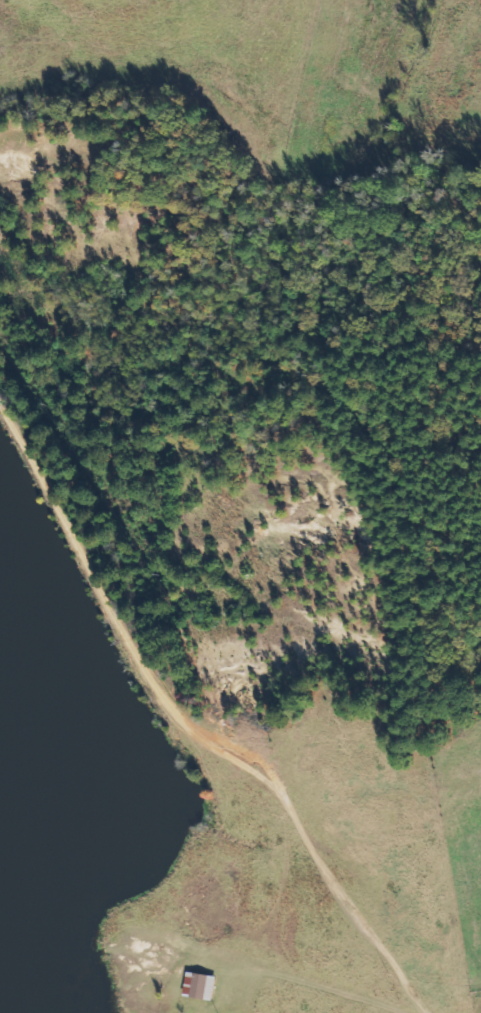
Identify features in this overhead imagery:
building: (199, 984)

